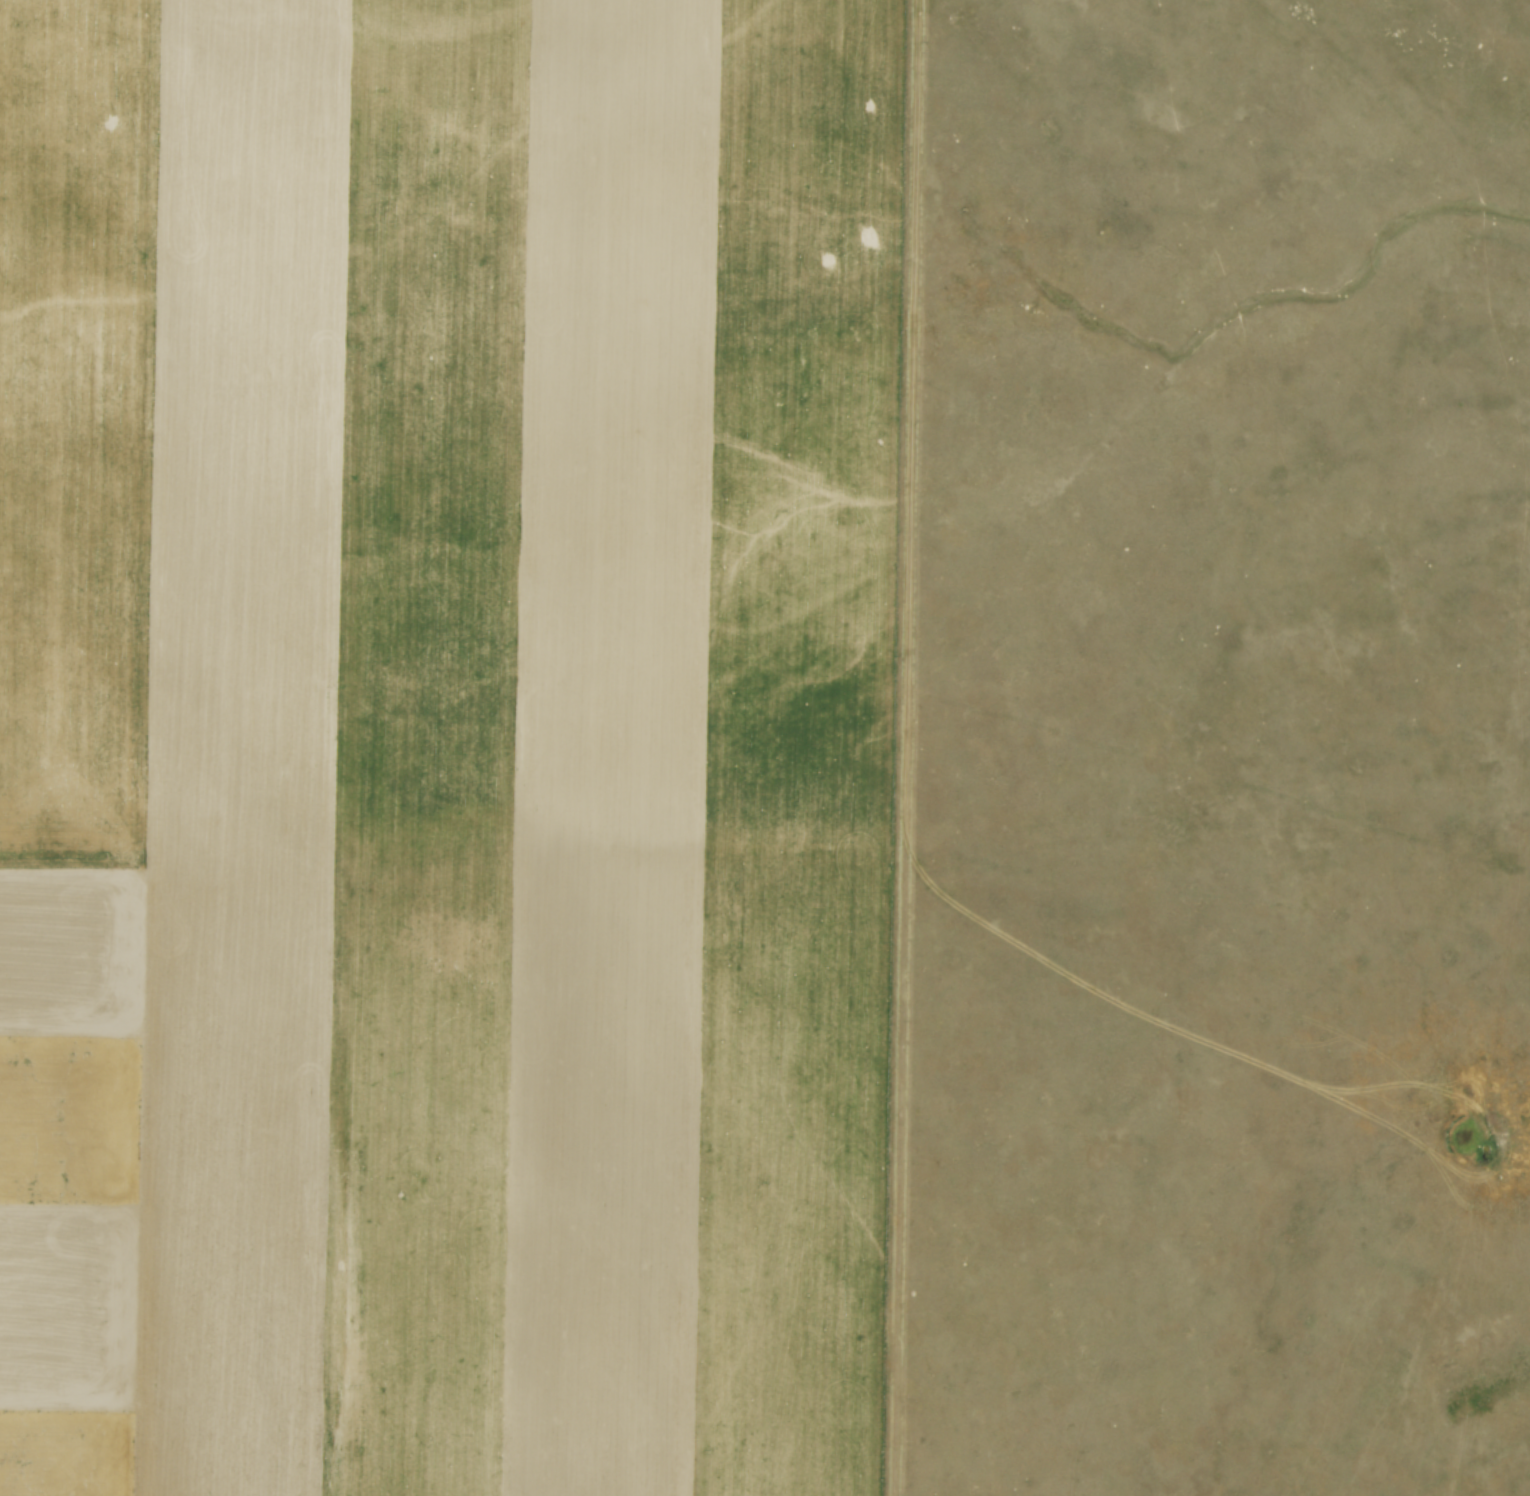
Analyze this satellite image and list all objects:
crop: (451, 745)

